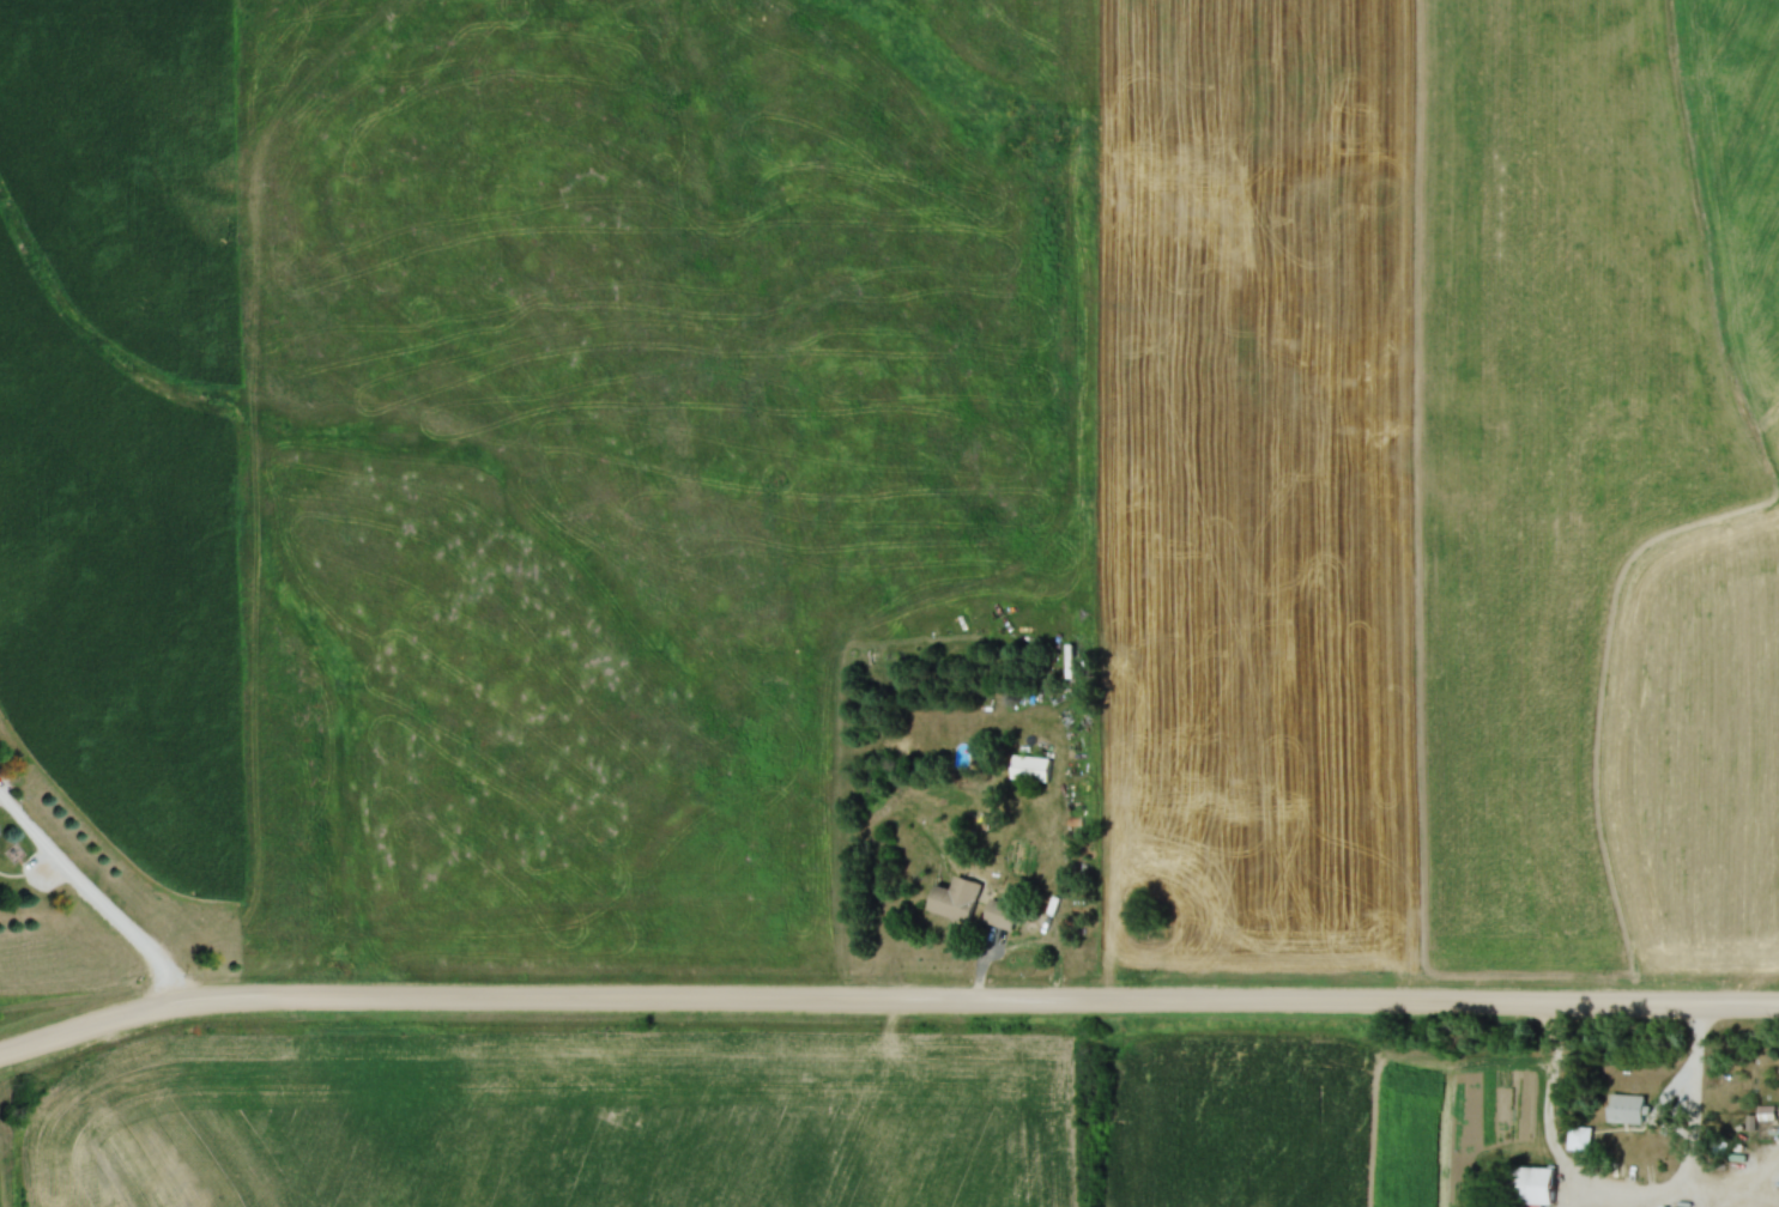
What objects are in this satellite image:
building: (1034, 769)
building: (958, 900)
road: (90, 904)
building: (1004, 916)
road: (885, 1007)
building: (1627, 1106)
building: (1579, 1135)
building: (1532, 1182)
road: (1626, 1199)

